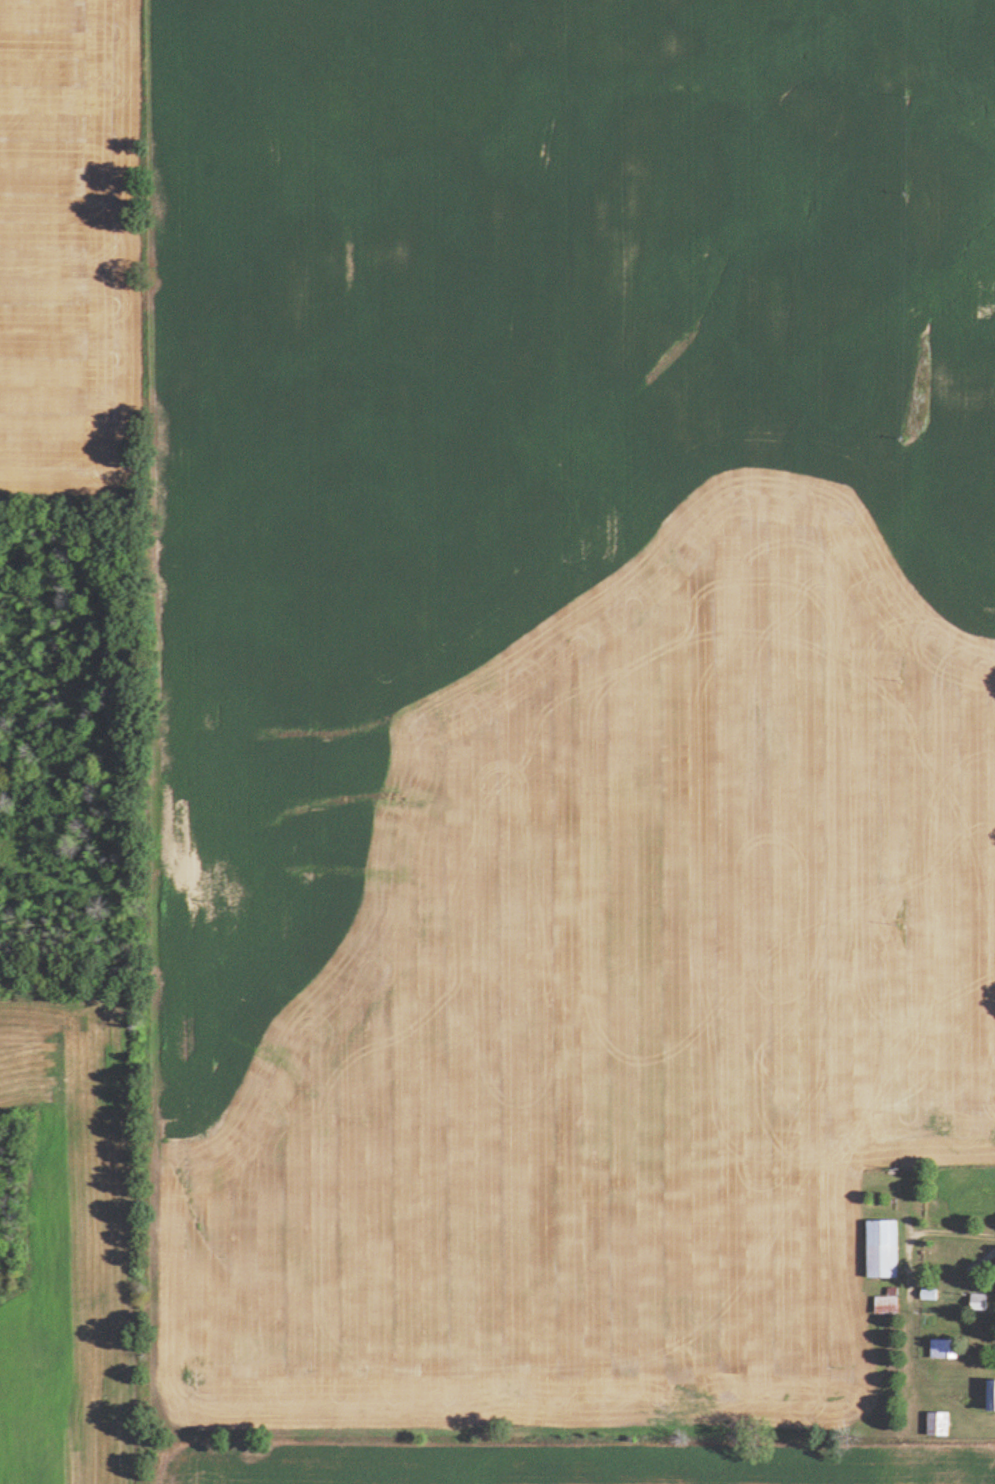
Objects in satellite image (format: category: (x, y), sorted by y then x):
building: (883, 1248)
road: (975, 1261)
building: (887, 1302)
building: (980, 1302)
building: (944, 1348)
building: (993, 1393)
building: (939, 1422)

